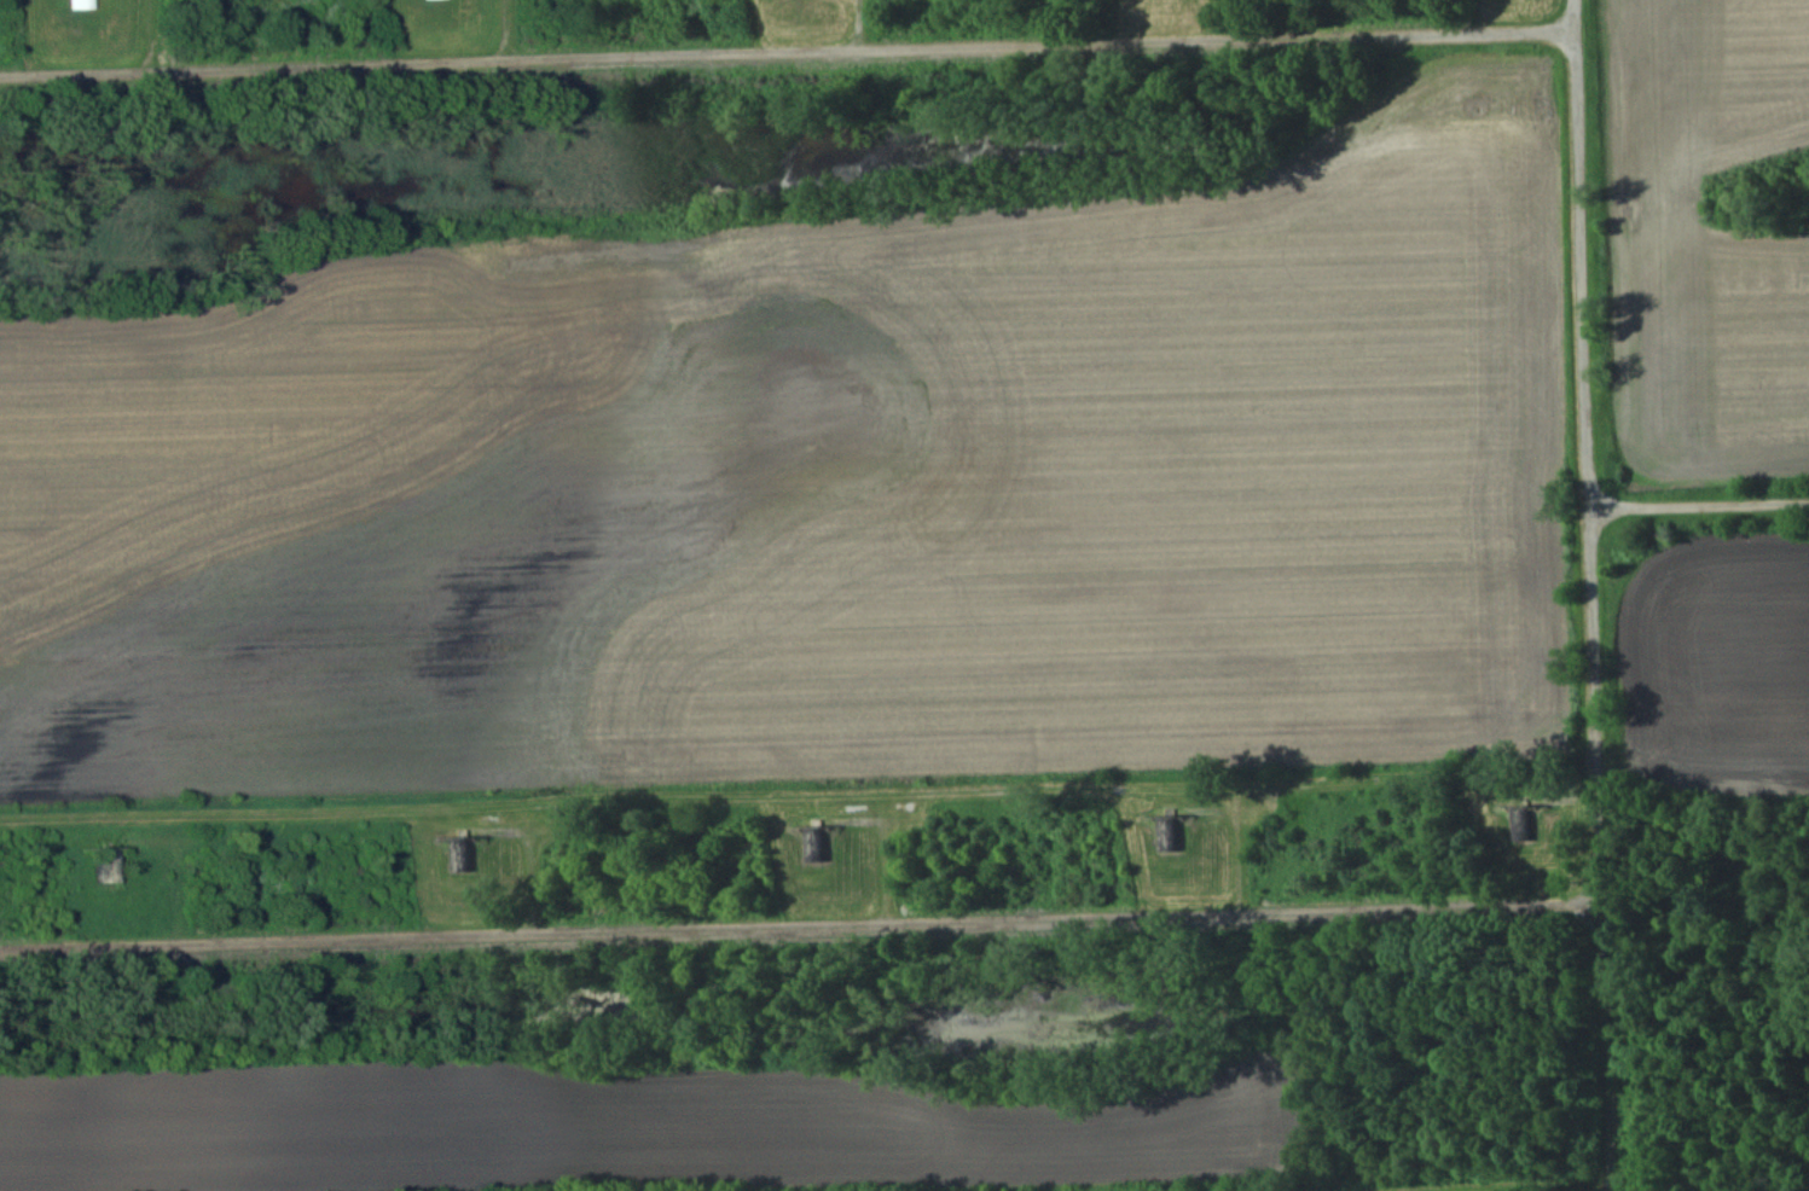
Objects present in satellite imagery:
road: (784, 56)
road: (1698, 510)
road: (1590, 595)
building: (1169, 833)
road: (800, 926)

